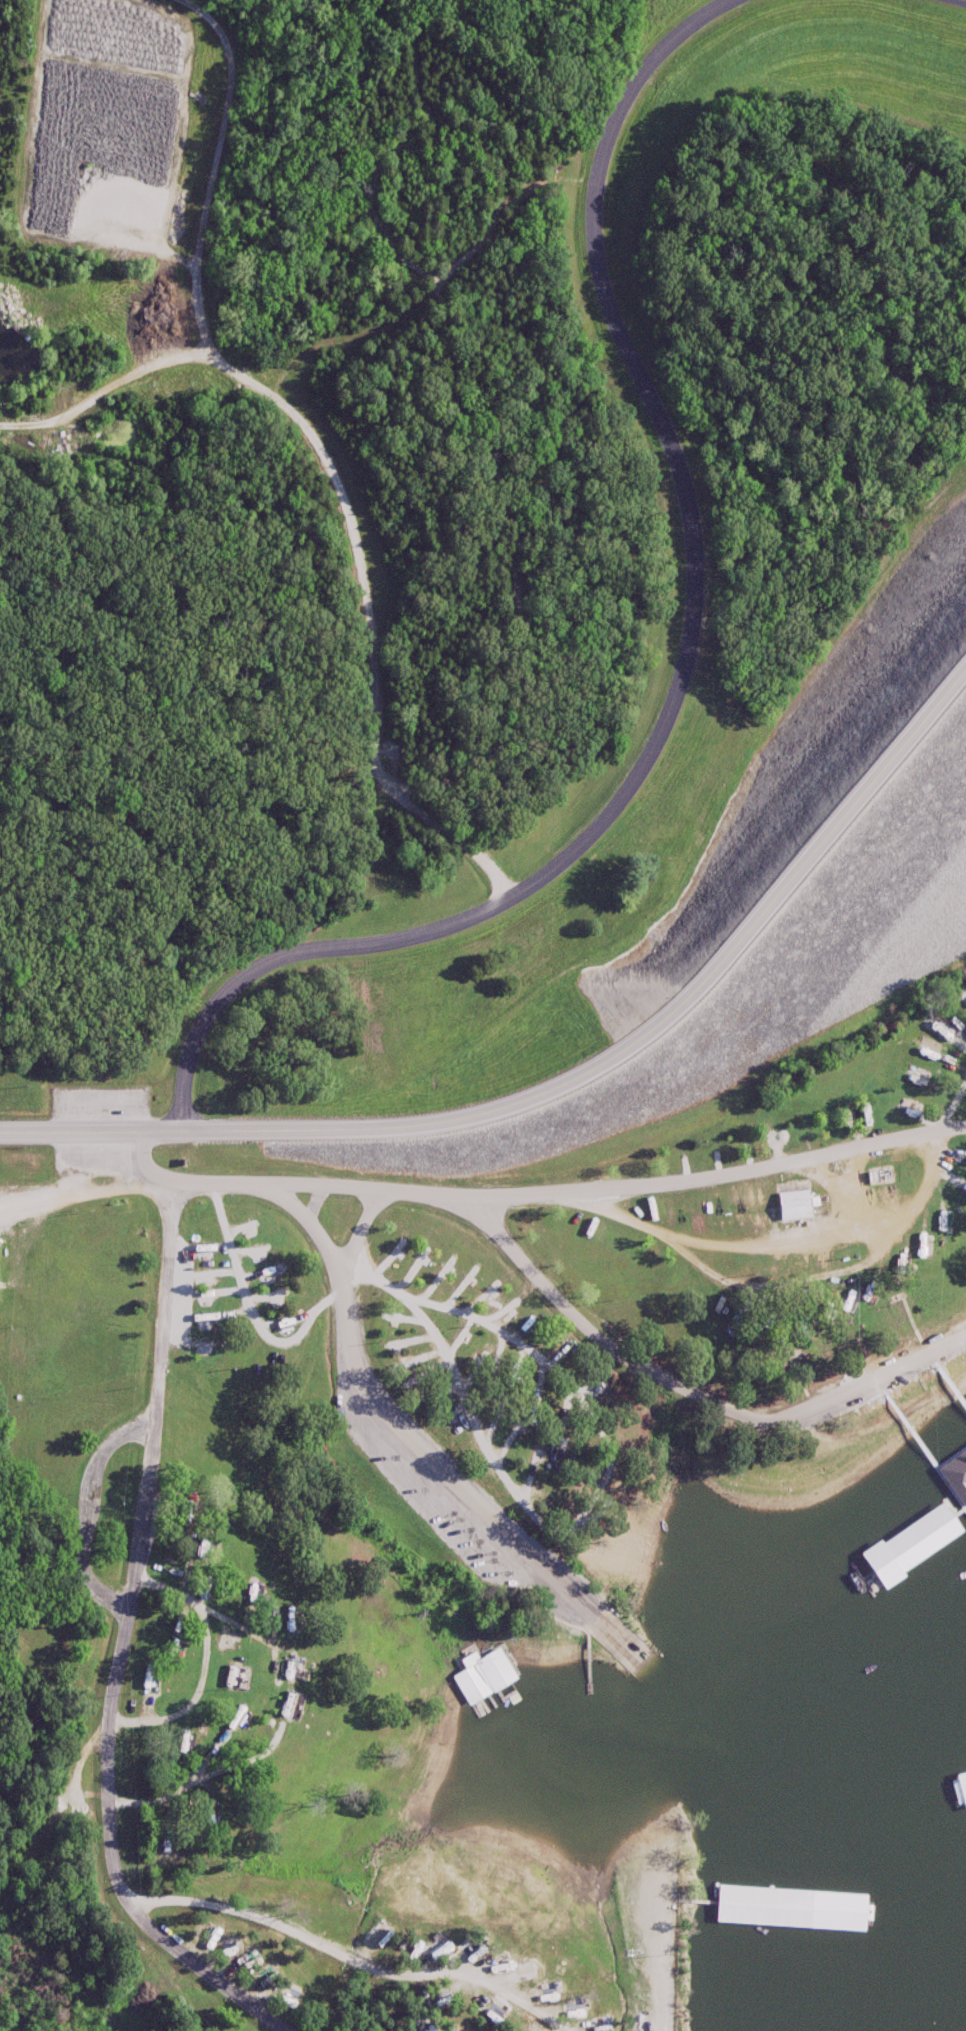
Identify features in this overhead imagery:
road: (964, 0)
road: (317, 443)
dam: (791, 799)
road: (319, 950)
road: (565, 1097)
road: (144, 1155)
building: (874, 1176)
road: (231, 1187)
building: (784, 1208)
building: (241, 1226)
road: (370, 1232)
road: (498, 1233)
road: (387, 1292)
road: (409, 1461)
road: (603, 1473)
building: (954, 1481)
building: (185, 1507)
building: (897, 1531)
building: (197, 1548)
building: (248, 1591)
building: (171, 1650)
road: (240, 1668)
building: (288, 1668)
building: (146, 1685)
road: (69, 1724)
building: (179, 1742)
building: (963, 1793)
building: (203, 1813)
building: (789, 1911)
road: (670, 1921)

